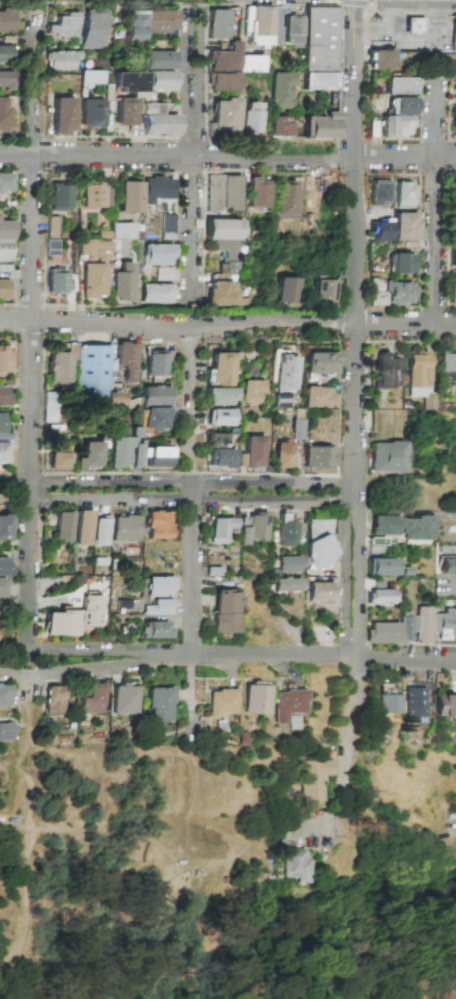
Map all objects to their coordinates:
road: (340, 0)
road: (356, 2)
road: (372, 2)
road: (22, 3)
road: (120, 5)
road: (274, 5)
road: (411, 12)
building: (6, 21)
building: (158, 21)
building: (216, 24)
building: (63, 25)
building: (132, 26)
building: (263, 26)
building: (418, 27)
gas station: (418, 27)
building: (91, 29)
building: (293, 29)
road: (393, 30)
building: (454, 35)
road: (435, 37)
building: (320, 48)
building: (4, 54)
building: (224, 58)
building: (59, 60)
building: (159, 60)
building: (379, 60)
building: (250, 64)
road: (199, 70)
building: (89, 77)
building: (6, 80)
building: (159, 80)
building: (223, 82)
building: (397, 86)
building: (454, 88)
building: (281, 90)
building: (123, 111)
building: (3, 113)
building: (90, 113)
building: (61, 115)
building: (223, 115)
building: (397, 117)
building: (248, 118)
building: (453, 120)
building: (156, 121)
building: (281, 126)
building: (322, 126)
road: (228, 158)
road: (192, 162)
building: (5, 183)
building: (156, 189)
building: (222, 192)
building: (254, 193)
building: (379, 193)
building: (403, 195)
building: (92, 196)
building: (59, 197)
building: (128, 197)
building: (453, 197)
building: (285, 200)
road: (436, 213)
building: (51, 227)
building: (452, 227)
building: (396, 228)
building: (221, 229)
road: (357, 230)
building: (121, 231)
building: (5, 240)
building: (51, 248)
building: (93, 250)
building: (156, 255)
building: (453, 261)
building: (400, 263)
building: (225, 273)
building: (164, 274)
building: (93, 280)
building: (55, 281)
building: (123, 283)
building: (2, 289)
building: (286, 290)
building: (323, 290)
building: (375, 292)
building: (396, 293)
building: (157, 294)
building: (452, 295)
road: (133, 306)
road: (228, 323)
road: (30, 334)
building: (3, 360)
building: (128, 360)
building: (156, 363)
building: (319, 363)
building: (446, 366)
building: (222, 369)
building: (93, 371)
building: (284, 371)
building: (385, 372)
building: (416, 374)
building: (251, 393)
building: (3, 395)
building: (156, 396)
building: (221, 396)
building: (318, 397)
building: (282, 400)
building: (50, 407)
building: (221, 417)
building: (156, 419)
building: (1, 423)
building: (296, 429)
building: (217, 440)
building: (254, 451)
building: (3, 452)
building: (136, 452)
building: (283, 455)
building: (89, 456)
building: (319, 457)
building: (386, 457)
building: (222, 458)
building: (60, 461)
road: (173, 486)
road: (191, 488)
road: (353, 491)
road: (353, 498)
road: (173, 502)
building: (157, 525)
building: (383, 525)
building: (64, 526)
building: (257, 526)
building: (83, 527)
building: (5, 528)
building: (416, 528)
building: (124, 529)
building: (220, 529)
building: (286, 531)
building: (101, 532)
building: (242, 536)
building: (318, 542)
road: (346, 551)
road: (361, 551)
building: (447, 560)
building: (289, 564)
building: (5, 566)
building: (381, 566)
building: (286, 584)
building: (157, 586)
building: (2, 587)
building: (318, 591)
building: (378, 597)
building: (158, 608)
building: (224, 612)
building: (74, 618)
building: (445, 624)
building: (423, 625)
building: (154, 630)
building: (392, 630)
road: (227, 655)
road: (76, 672)
building: (386, 688)
building: (5, 695)
building: (92, 699)
building: (254, 699)
building: (55, 700)
building: (124, 700)
building: (221, 702)
building: (158, 704)
building: (285, 704)
building: (385, 704)
building: (444, 705)
road: (343, 728)
building: (6, 732)
building: (314, 780)
building: (295, 865)

